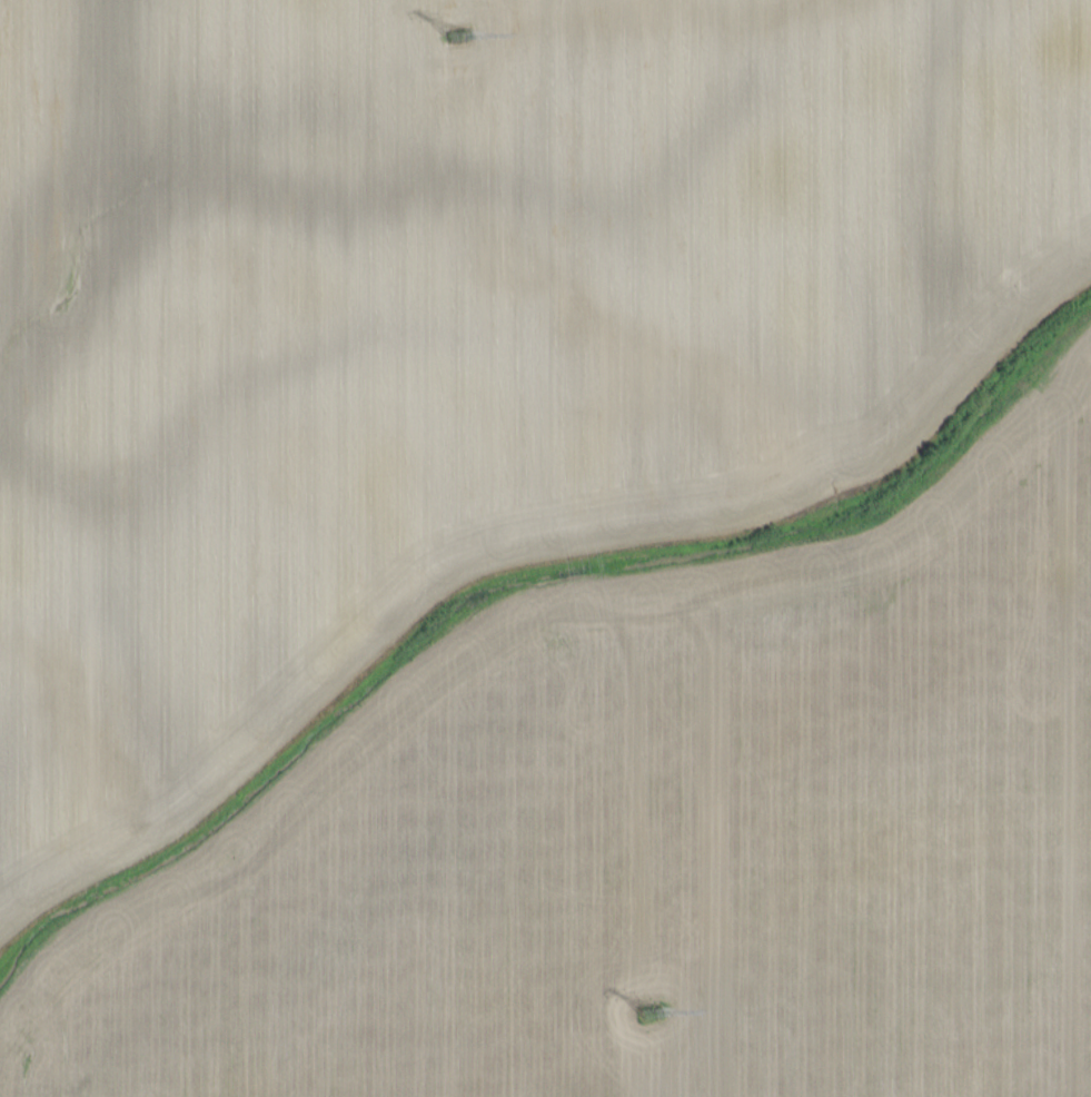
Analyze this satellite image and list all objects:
power tower: (458, 48)
power tower: (652, 1034)

